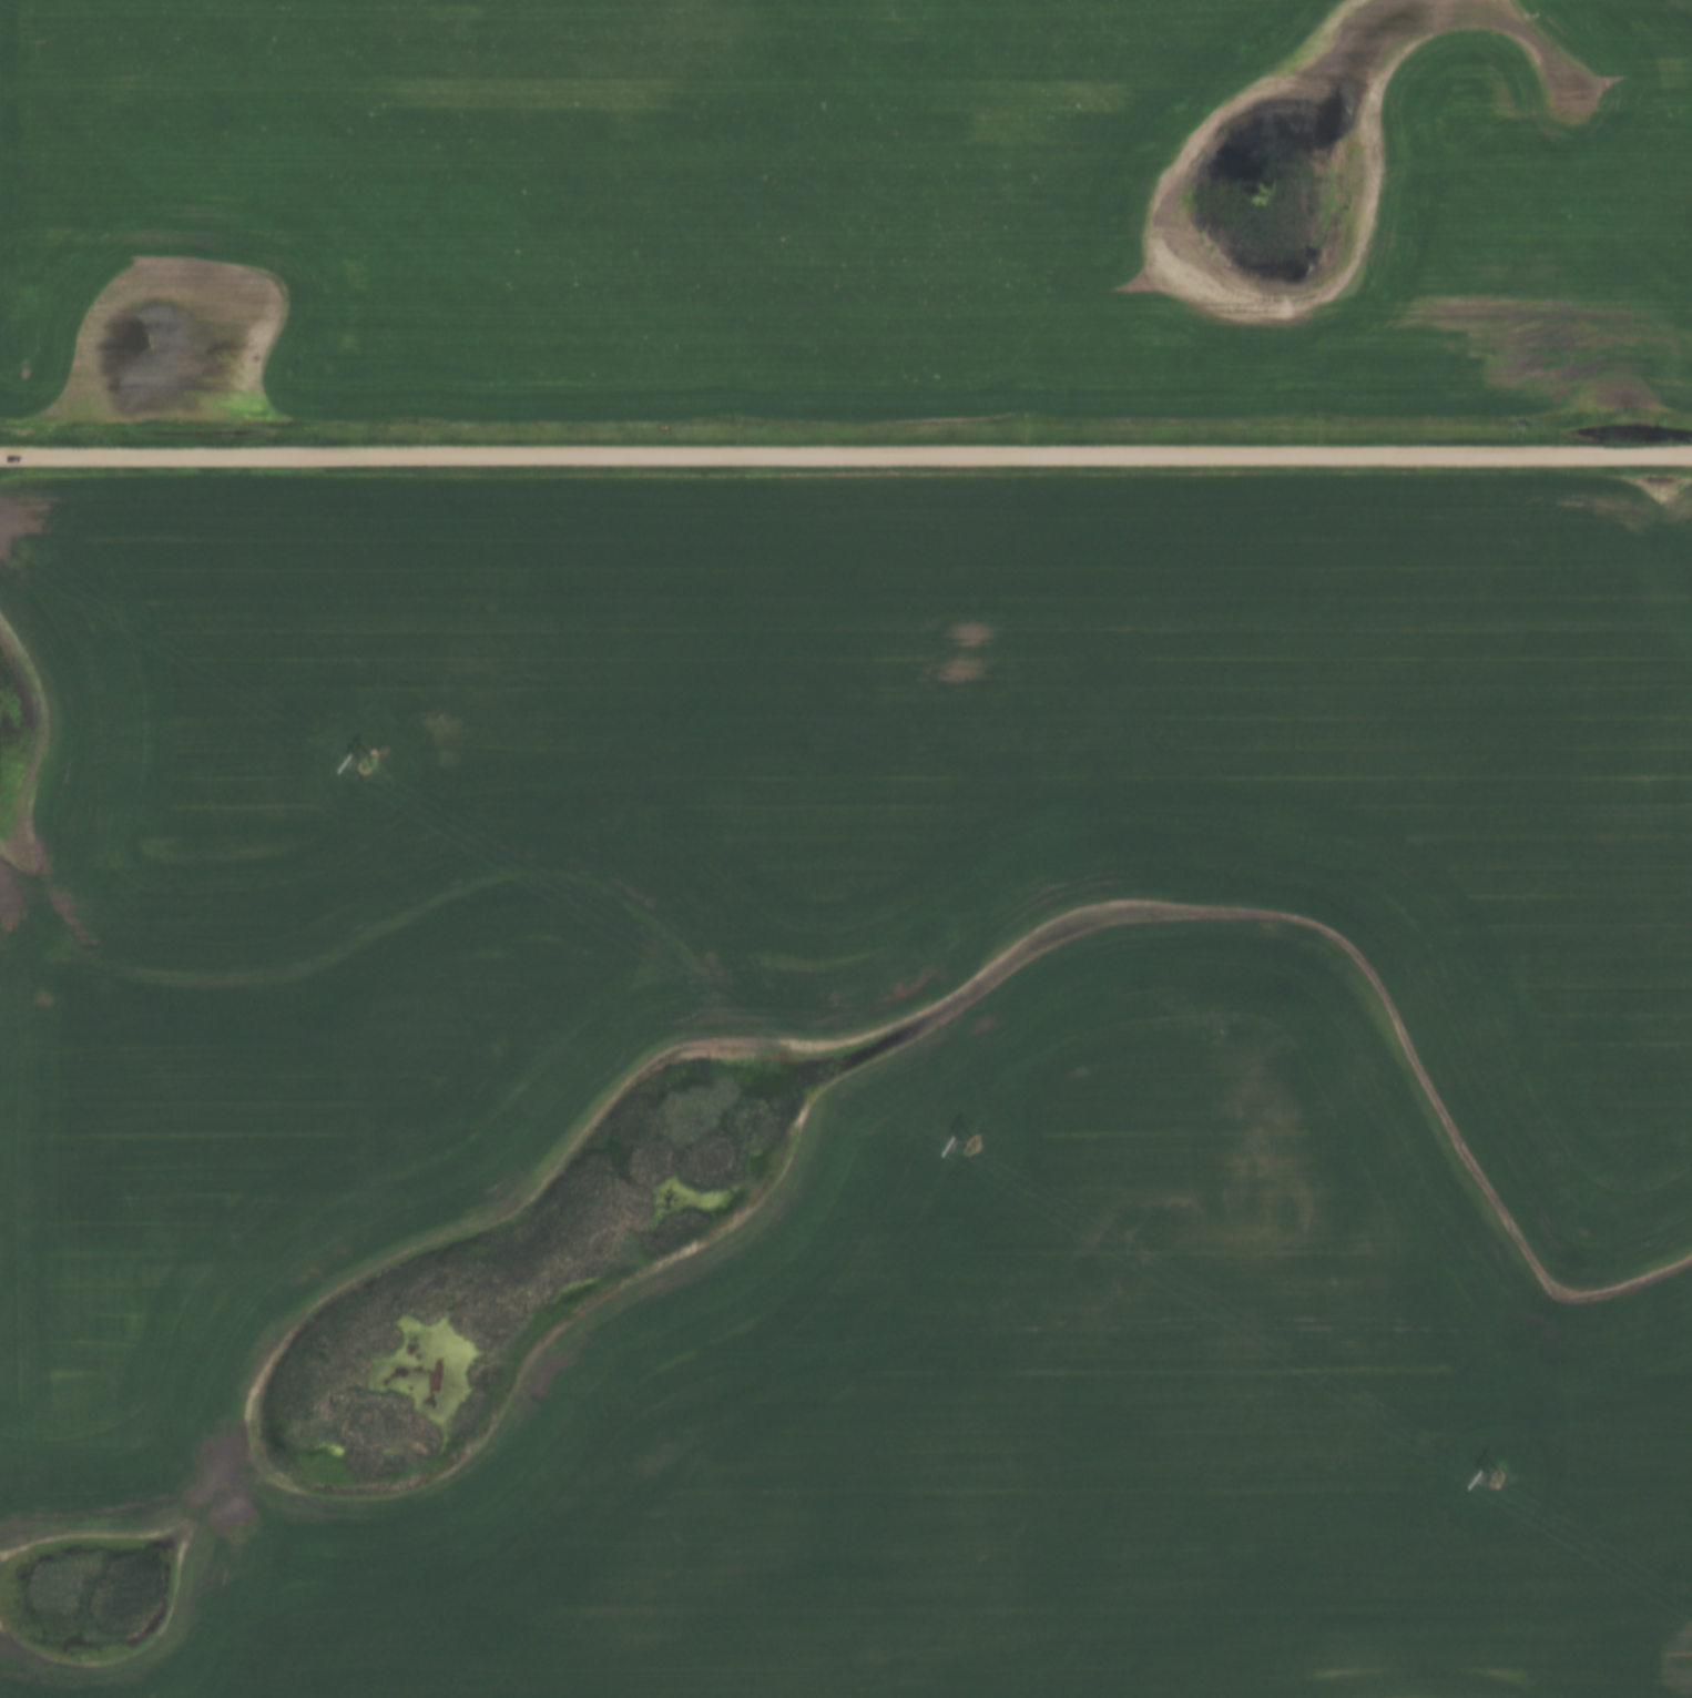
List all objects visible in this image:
road: (845, 451)

